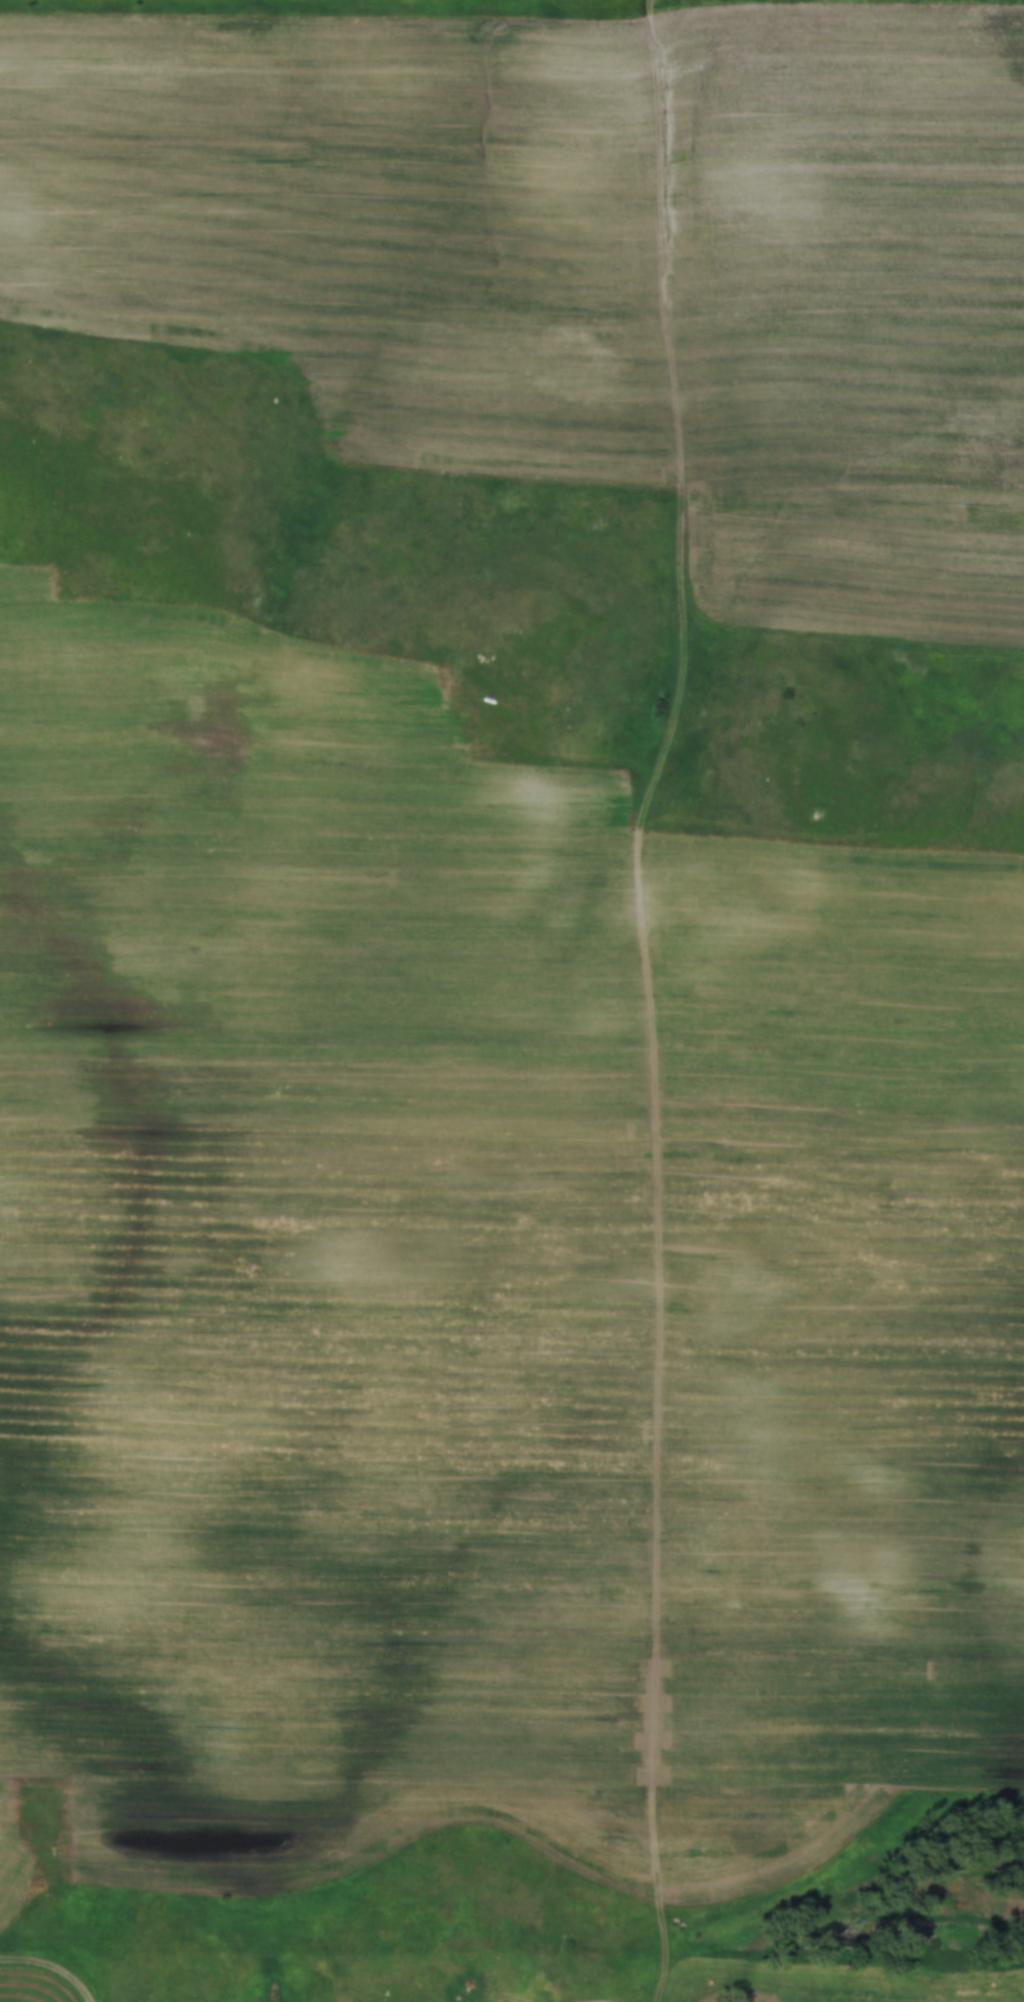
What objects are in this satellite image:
road: (54, 1966)
road: (595, 2001)

